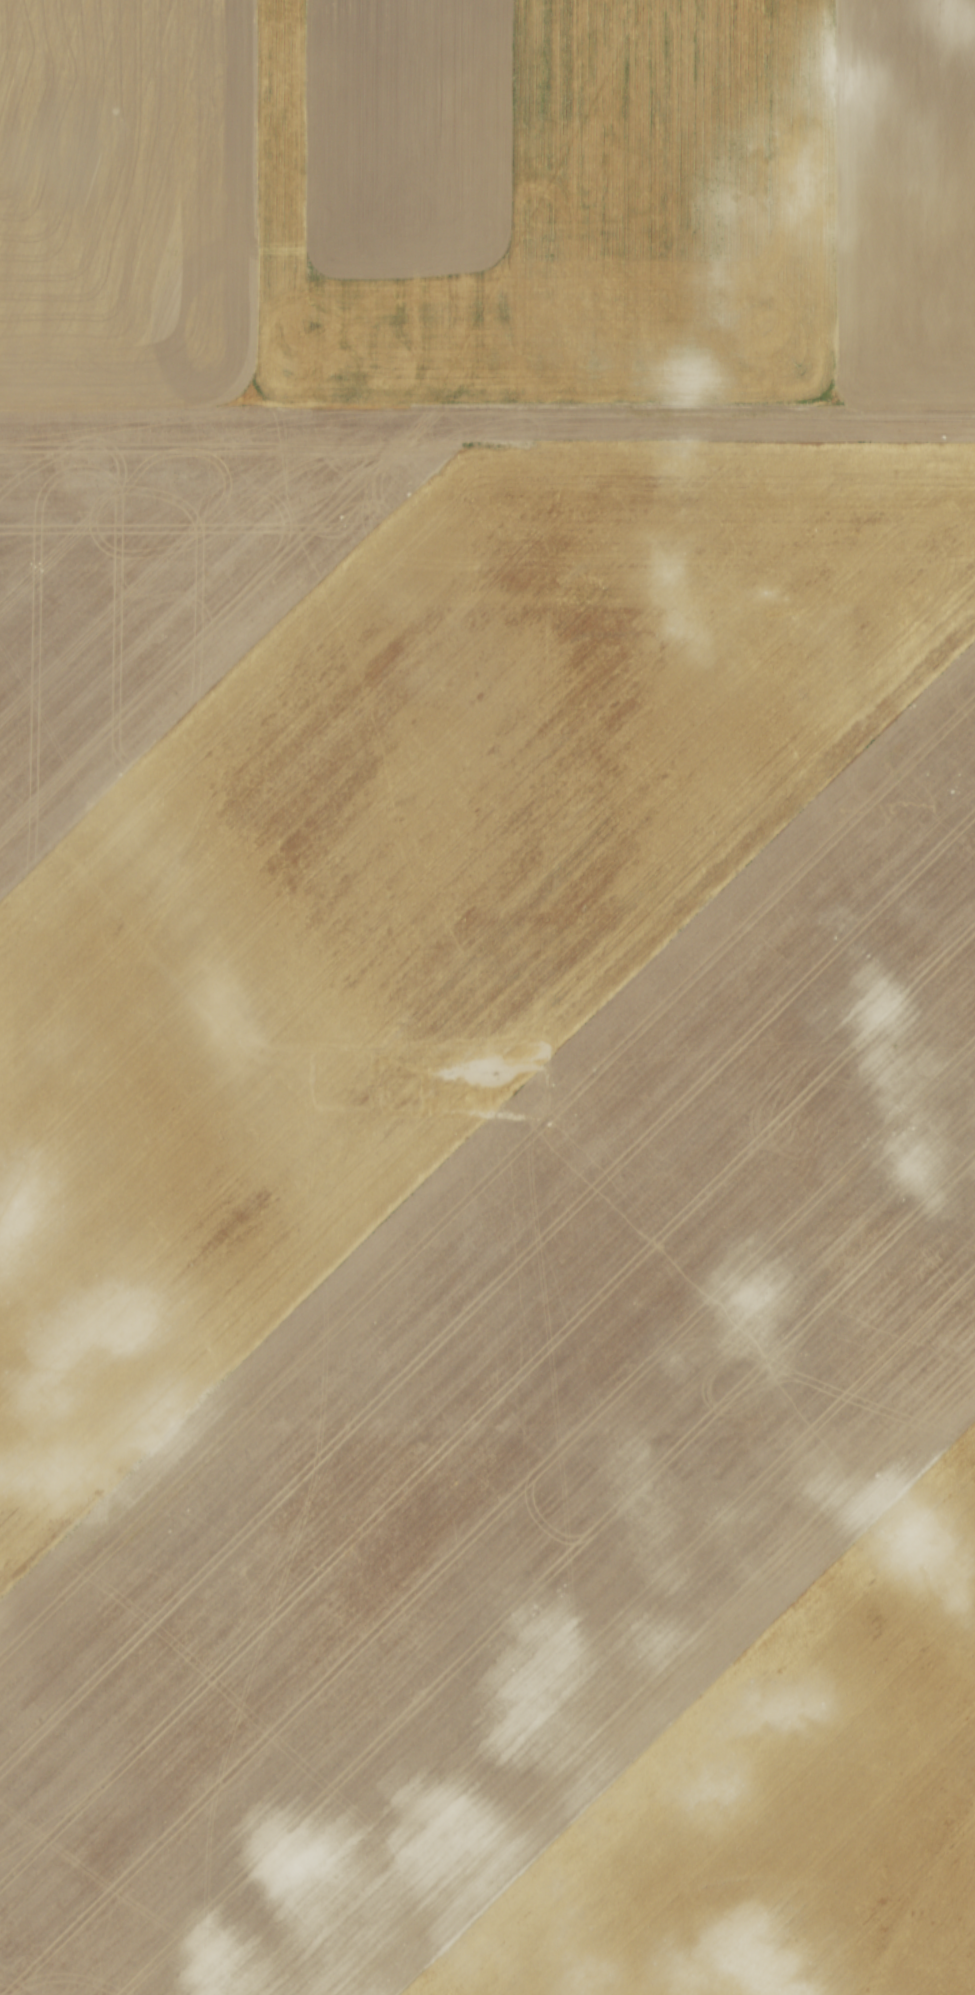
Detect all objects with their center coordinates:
crop: (487, 997)

